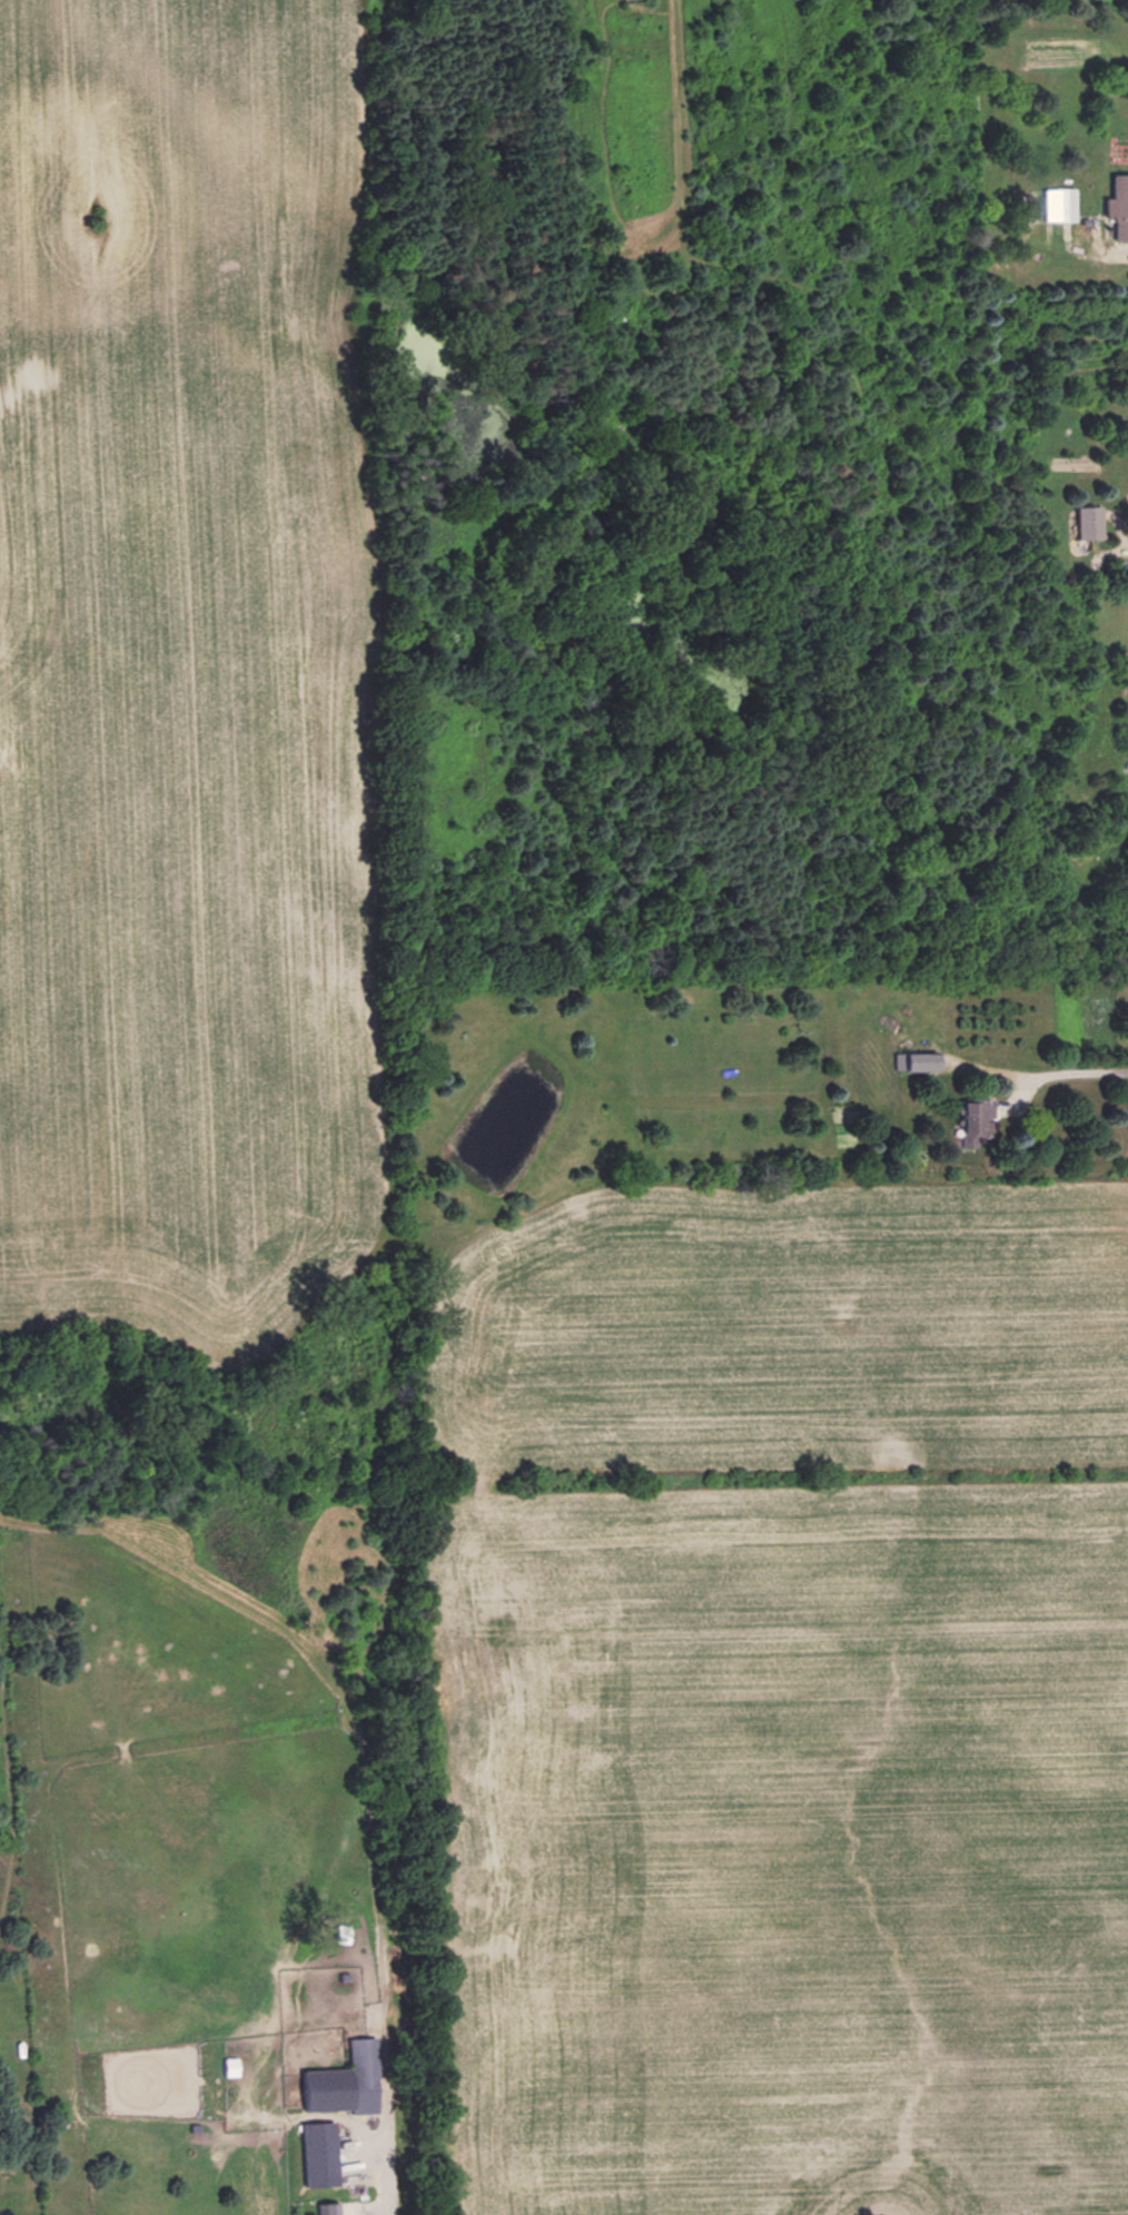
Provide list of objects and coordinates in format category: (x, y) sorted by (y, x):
building: (1057, 205)
building: (1117, 206)
building: (1086, 523)
road: (1076, 1071)
building: (971, 1120)
building: (343, 2081)
building: (317, 2154)
building: (326, 2208)
road: (389, 2212)

